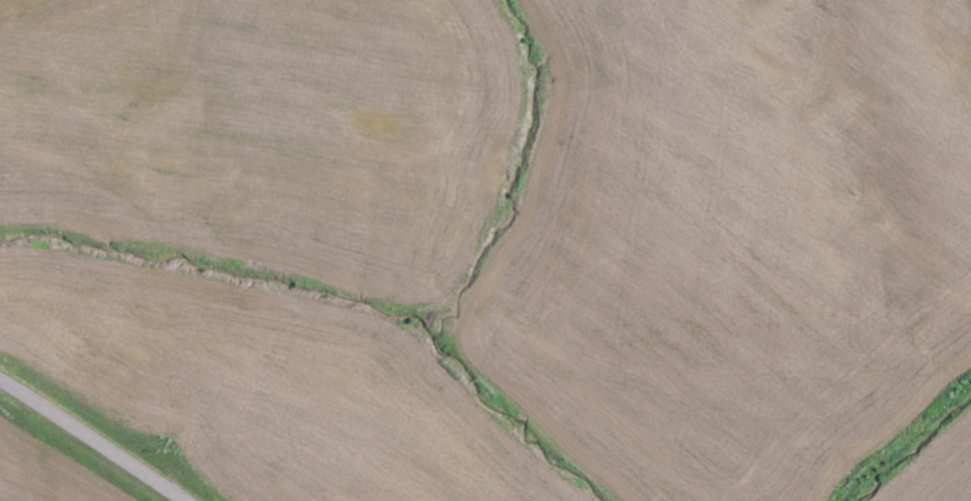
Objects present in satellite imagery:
road: (93, 439)

